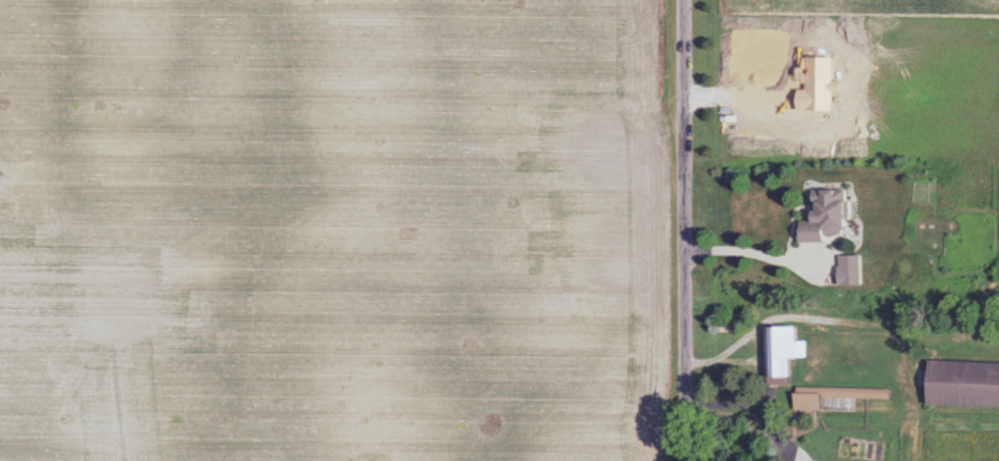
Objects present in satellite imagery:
building: (820, 217)
road: (684, 230)
road: (754, 252)
building: (846, 271)
road: (792, 317)
building: (780, 350)
building: (959, 385)
building: (831, 399)

